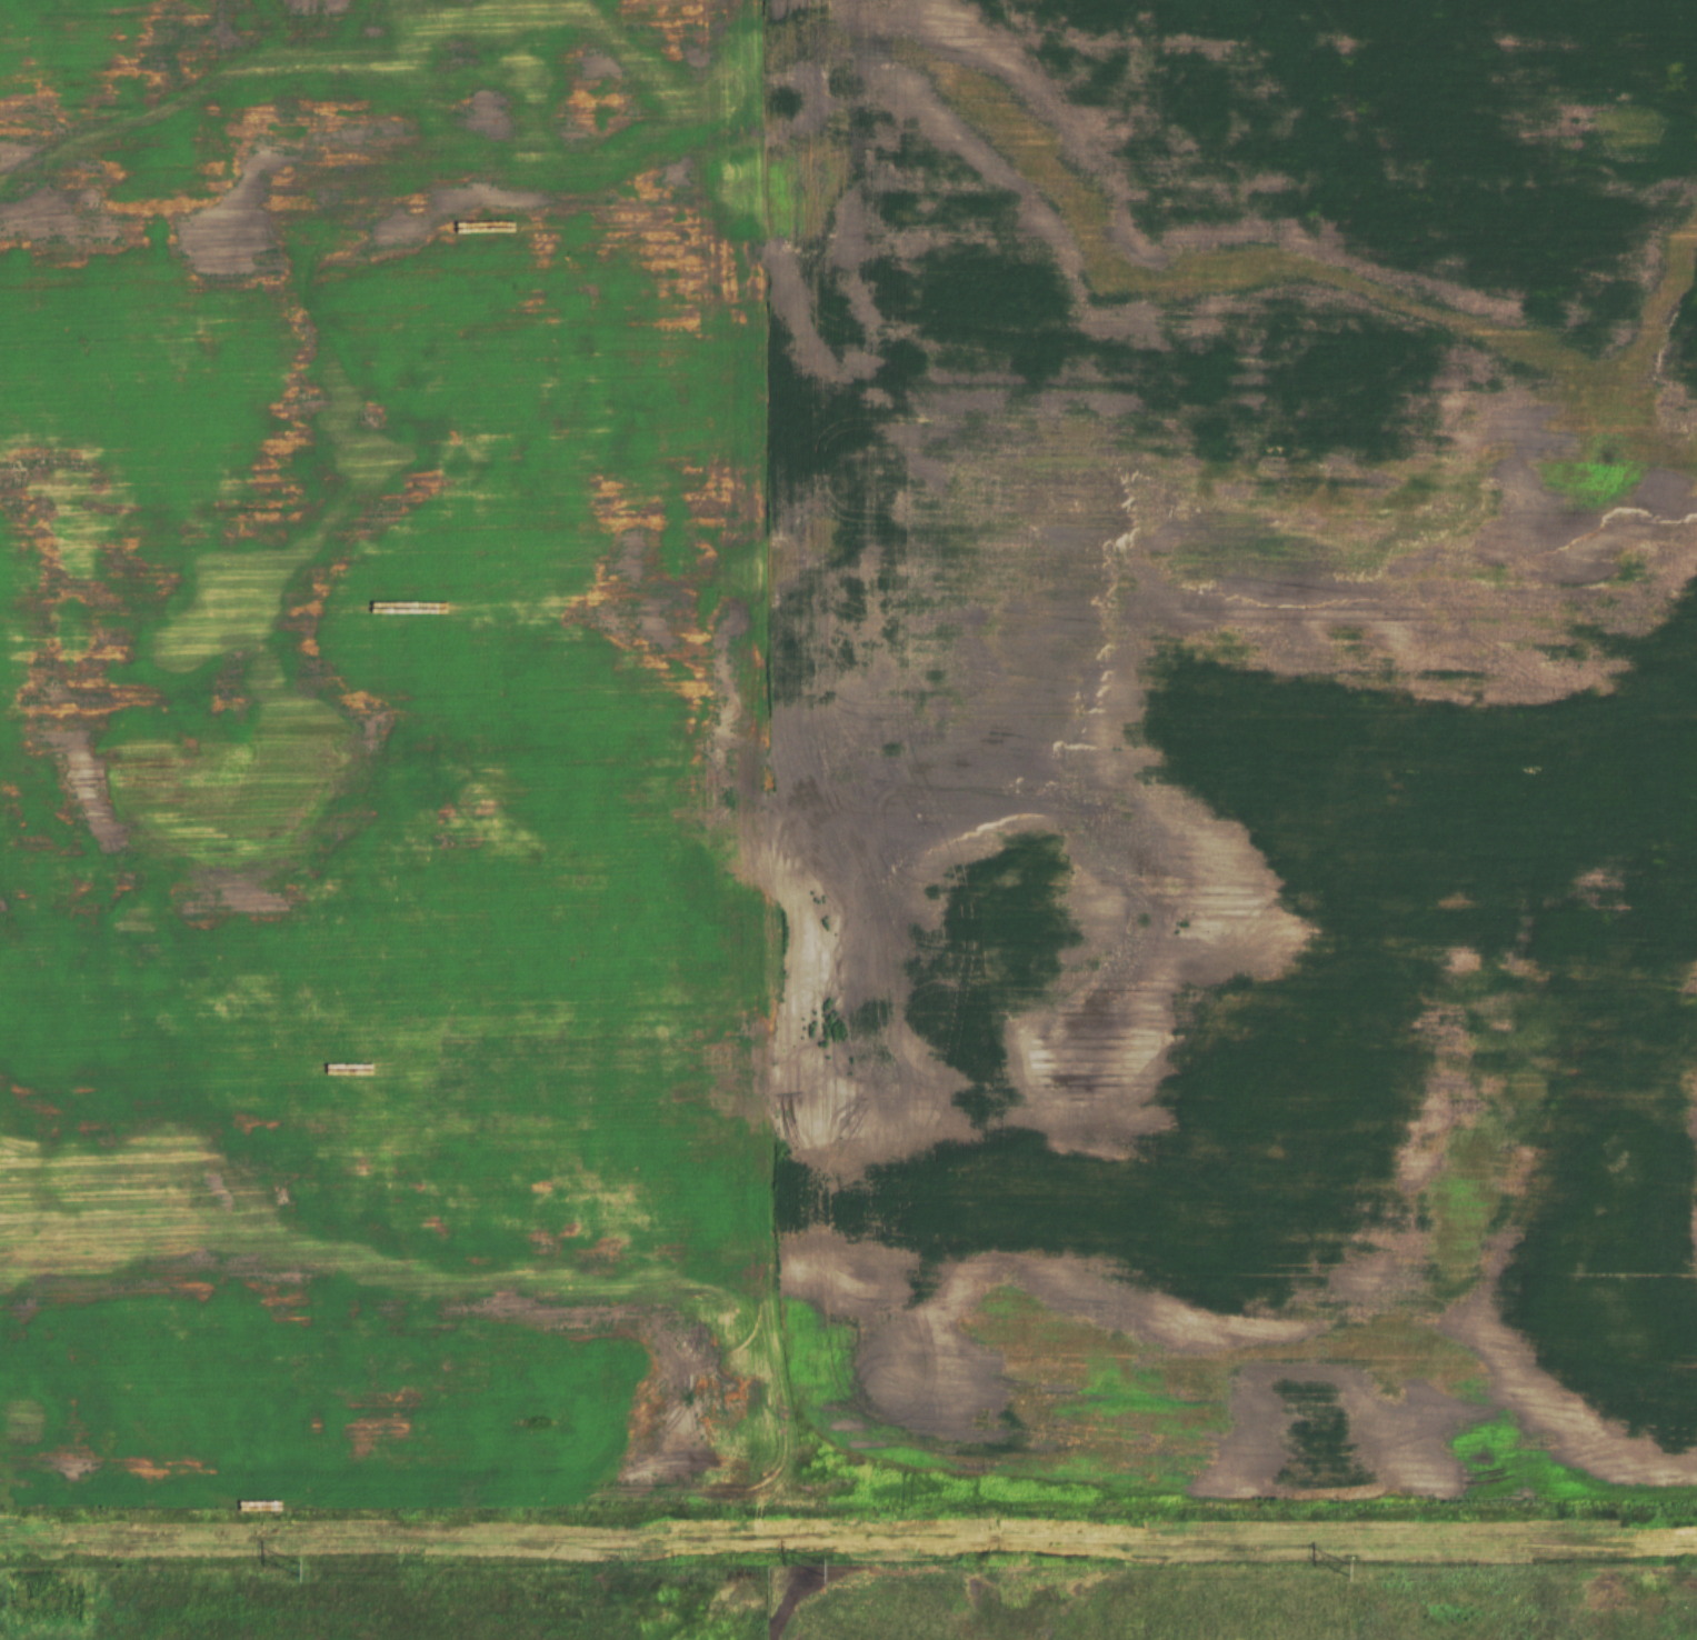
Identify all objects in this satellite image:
road: (848, 1538)
power tower: (298, 1569)
power tower: (821, 1569)
power tower: (1344, 1569)

